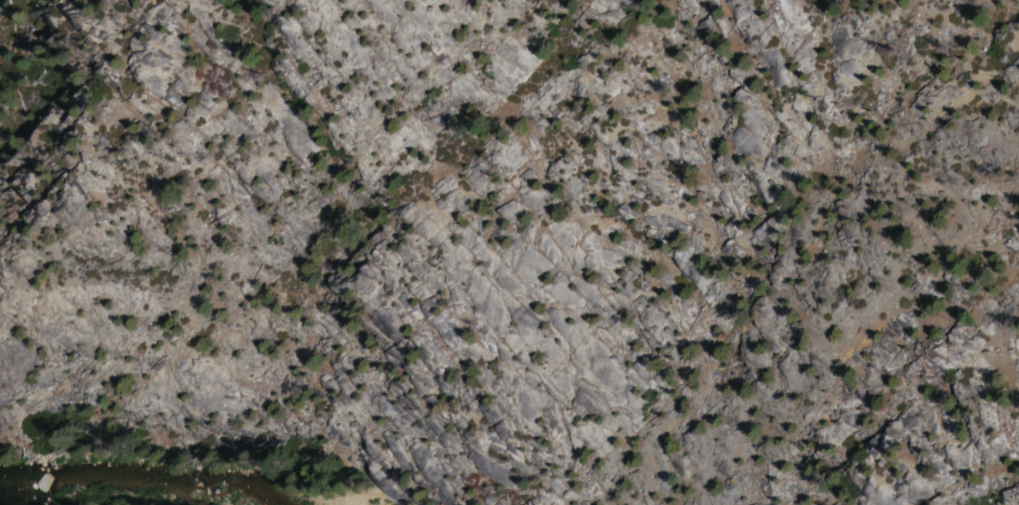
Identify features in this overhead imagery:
river: (137, 446)
river: (327, 482)

